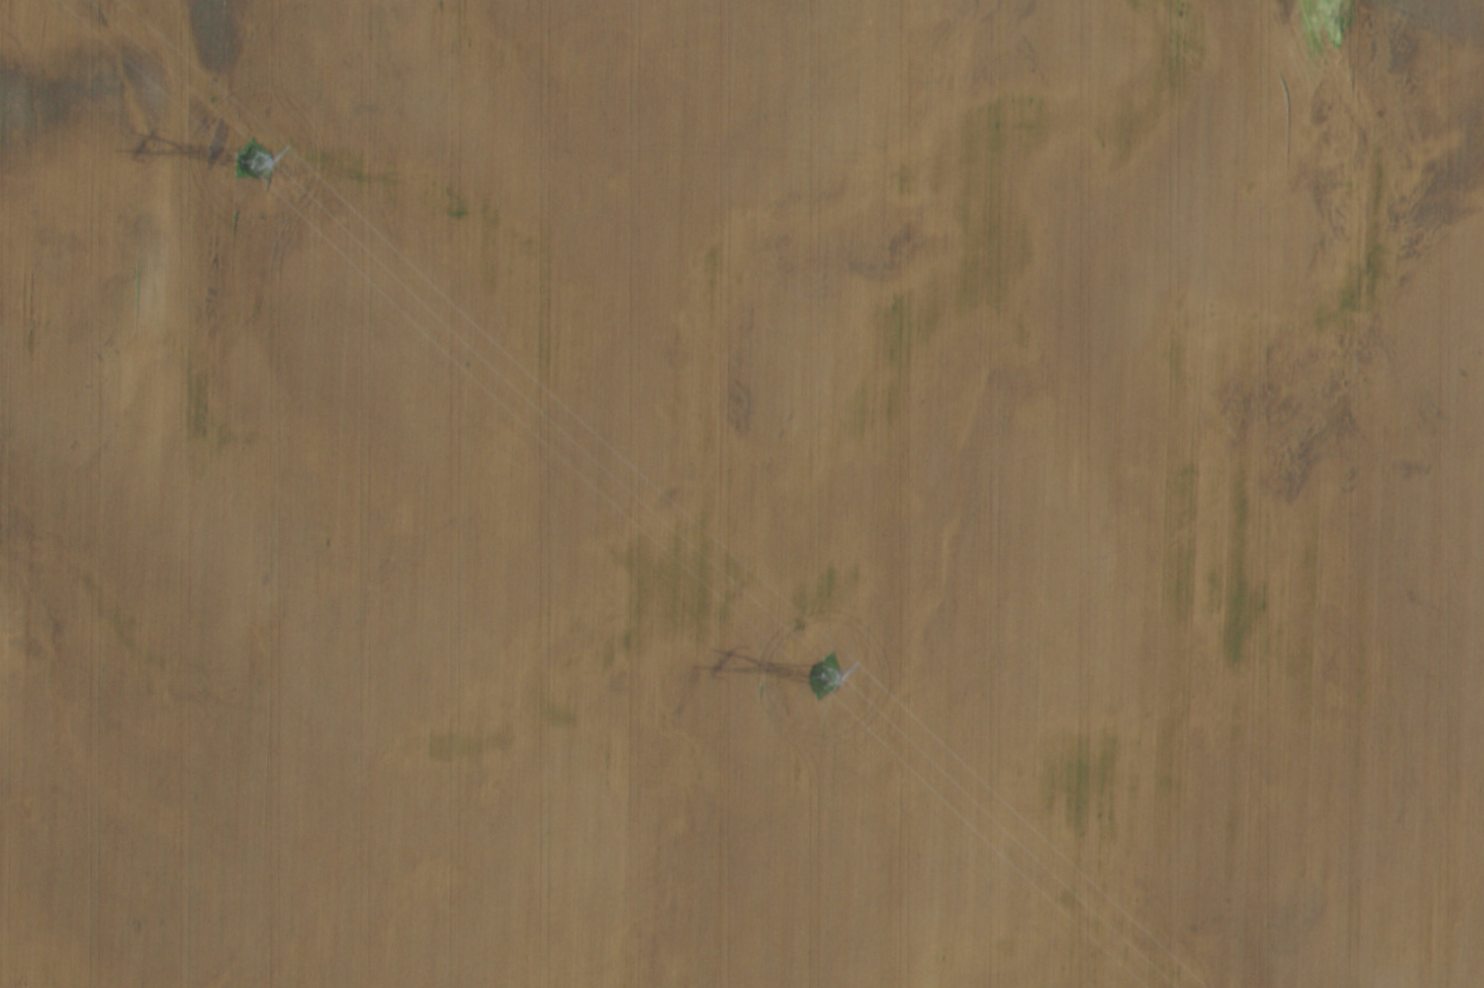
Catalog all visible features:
power tower: (244, 166)
road: (901, 493)
power tower: (822, 682)

